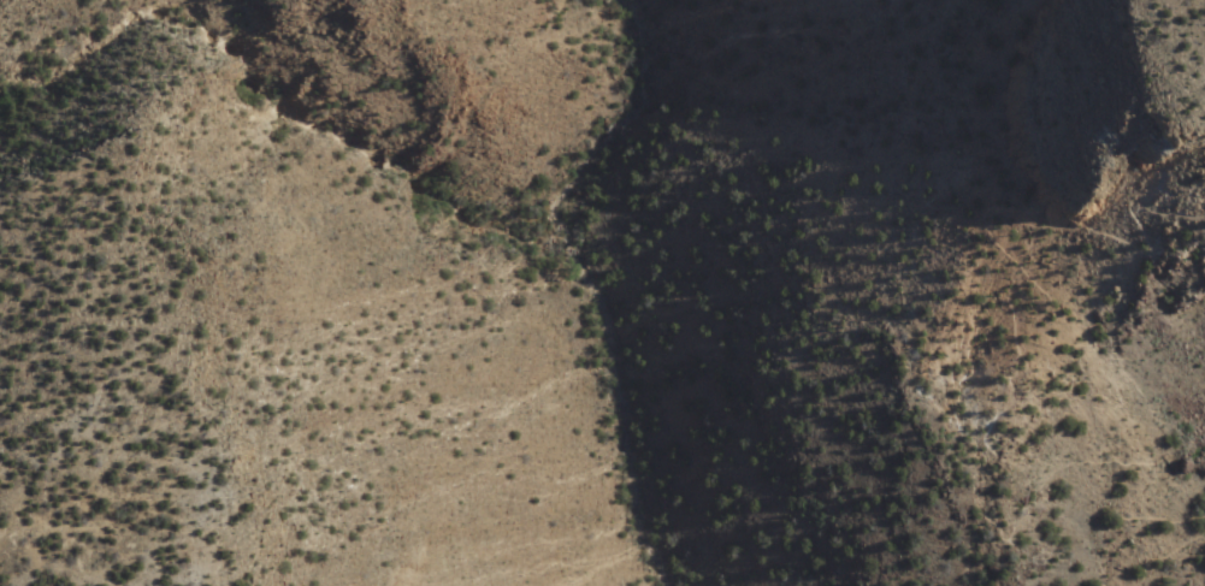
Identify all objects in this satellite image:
road: (1016, 374)
road: (1171, 557)

